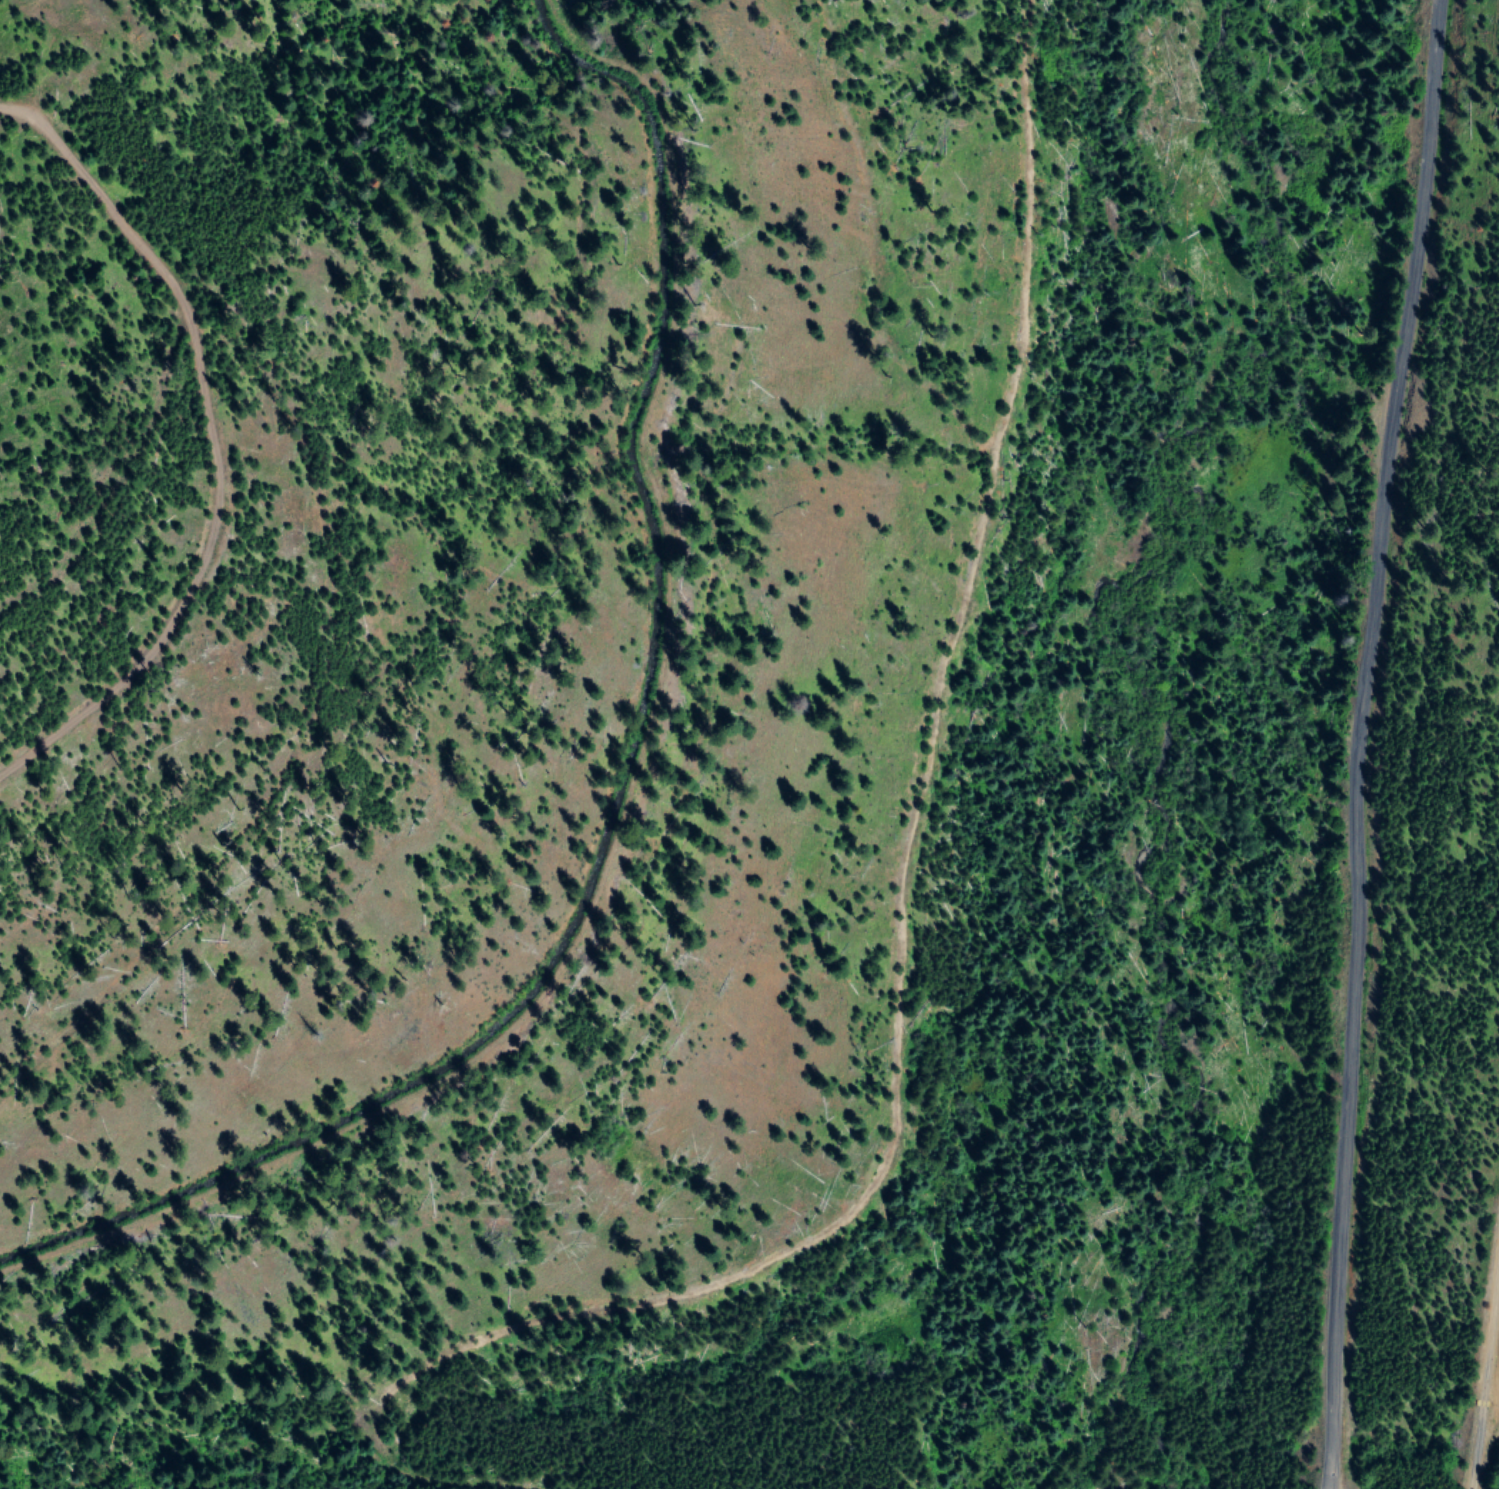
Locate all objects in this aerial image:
road: (52, 44)
road: (219, 439)
road: (1336, 742)
road: (974, 855)
road: (1486, 1394)

